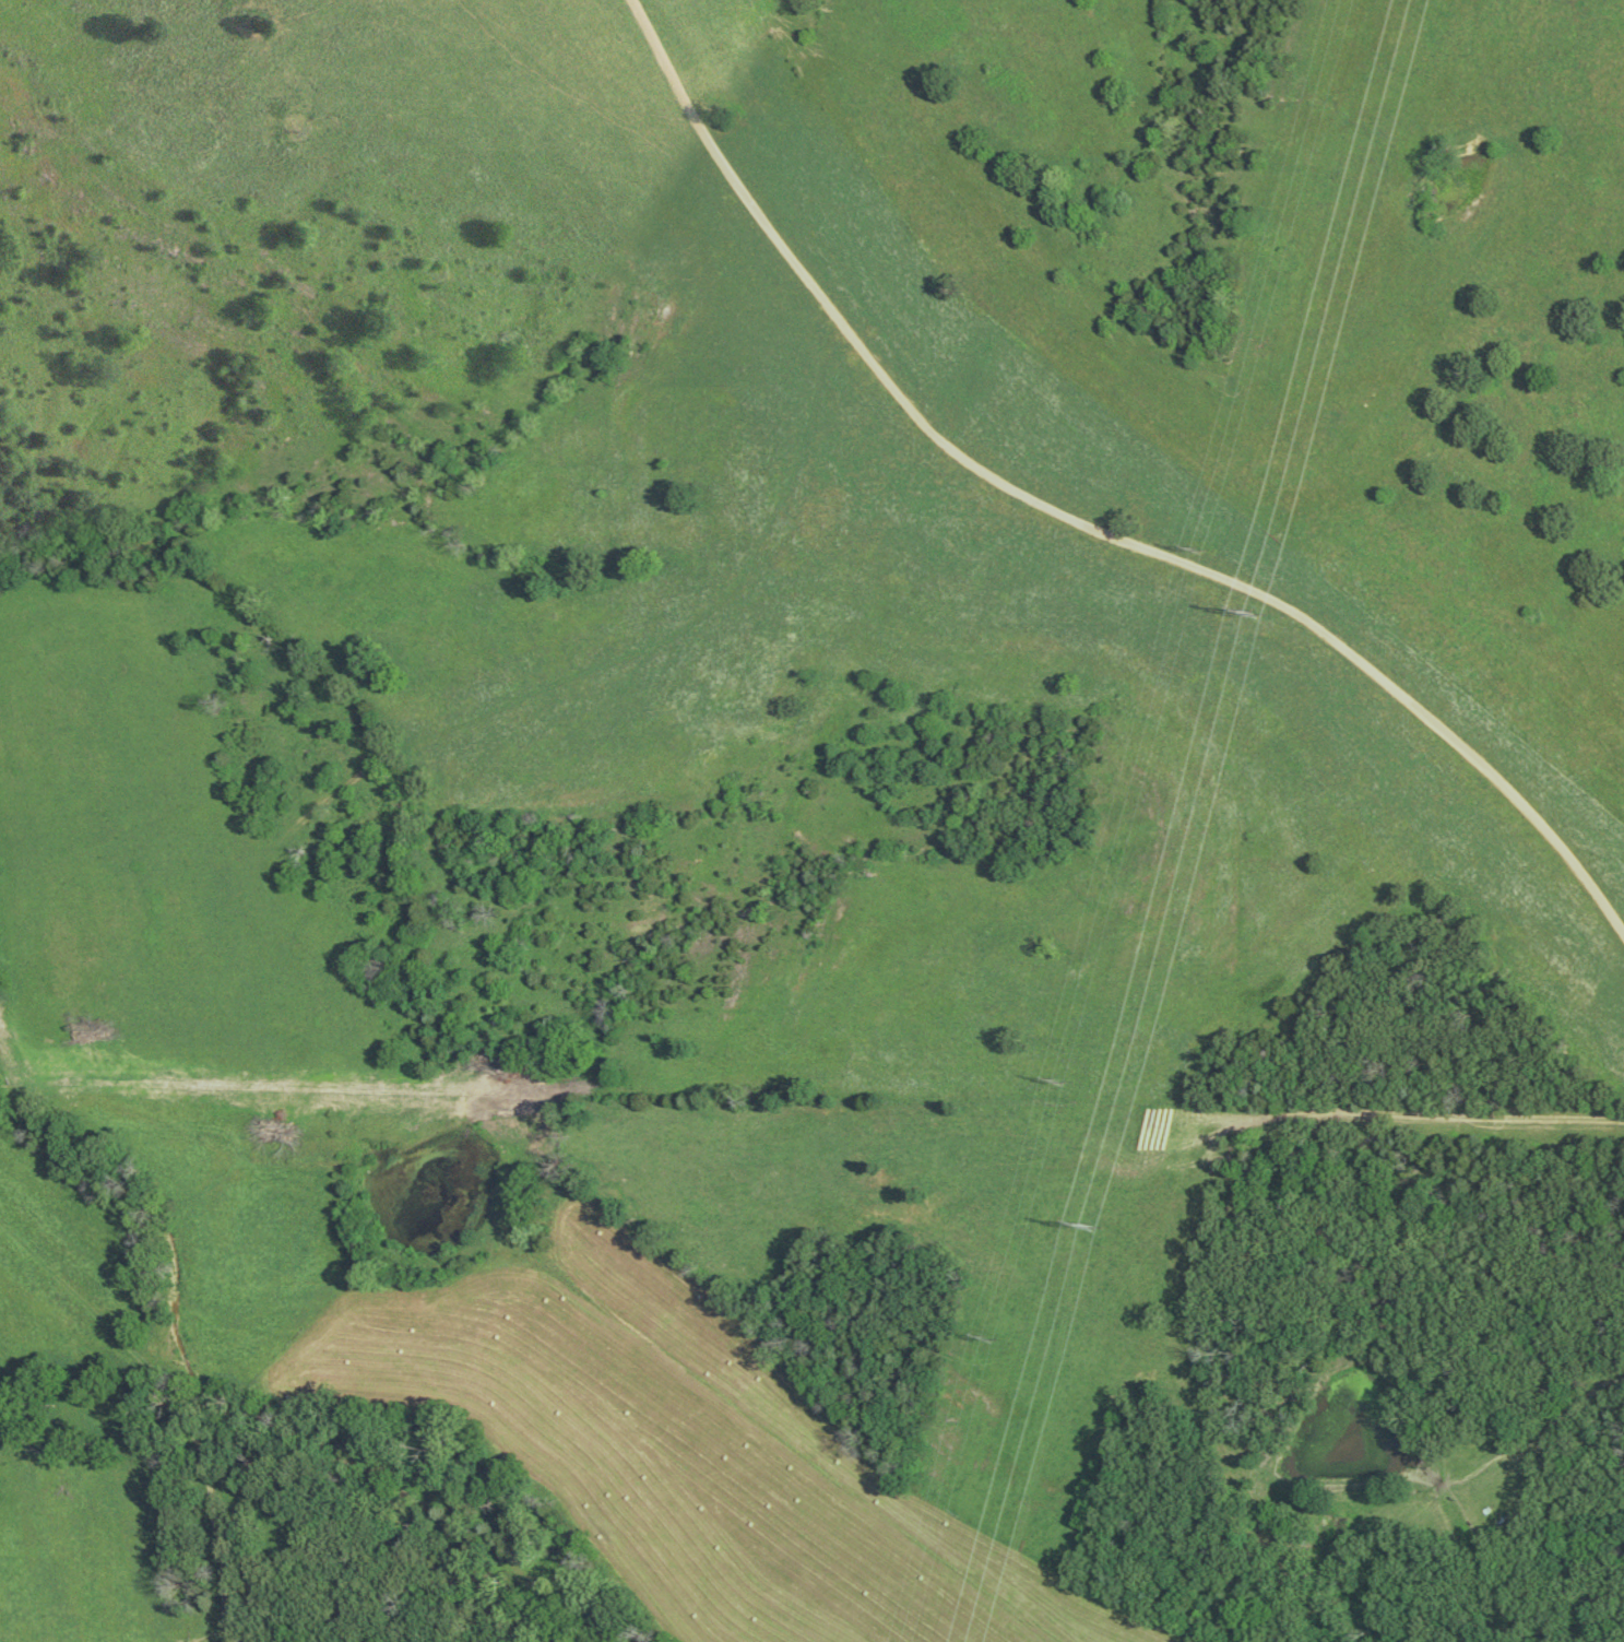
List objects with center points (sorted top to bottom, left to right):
road: (1075, 521)
power tower: (1256, 615)
power tower: (1087, 1224)

